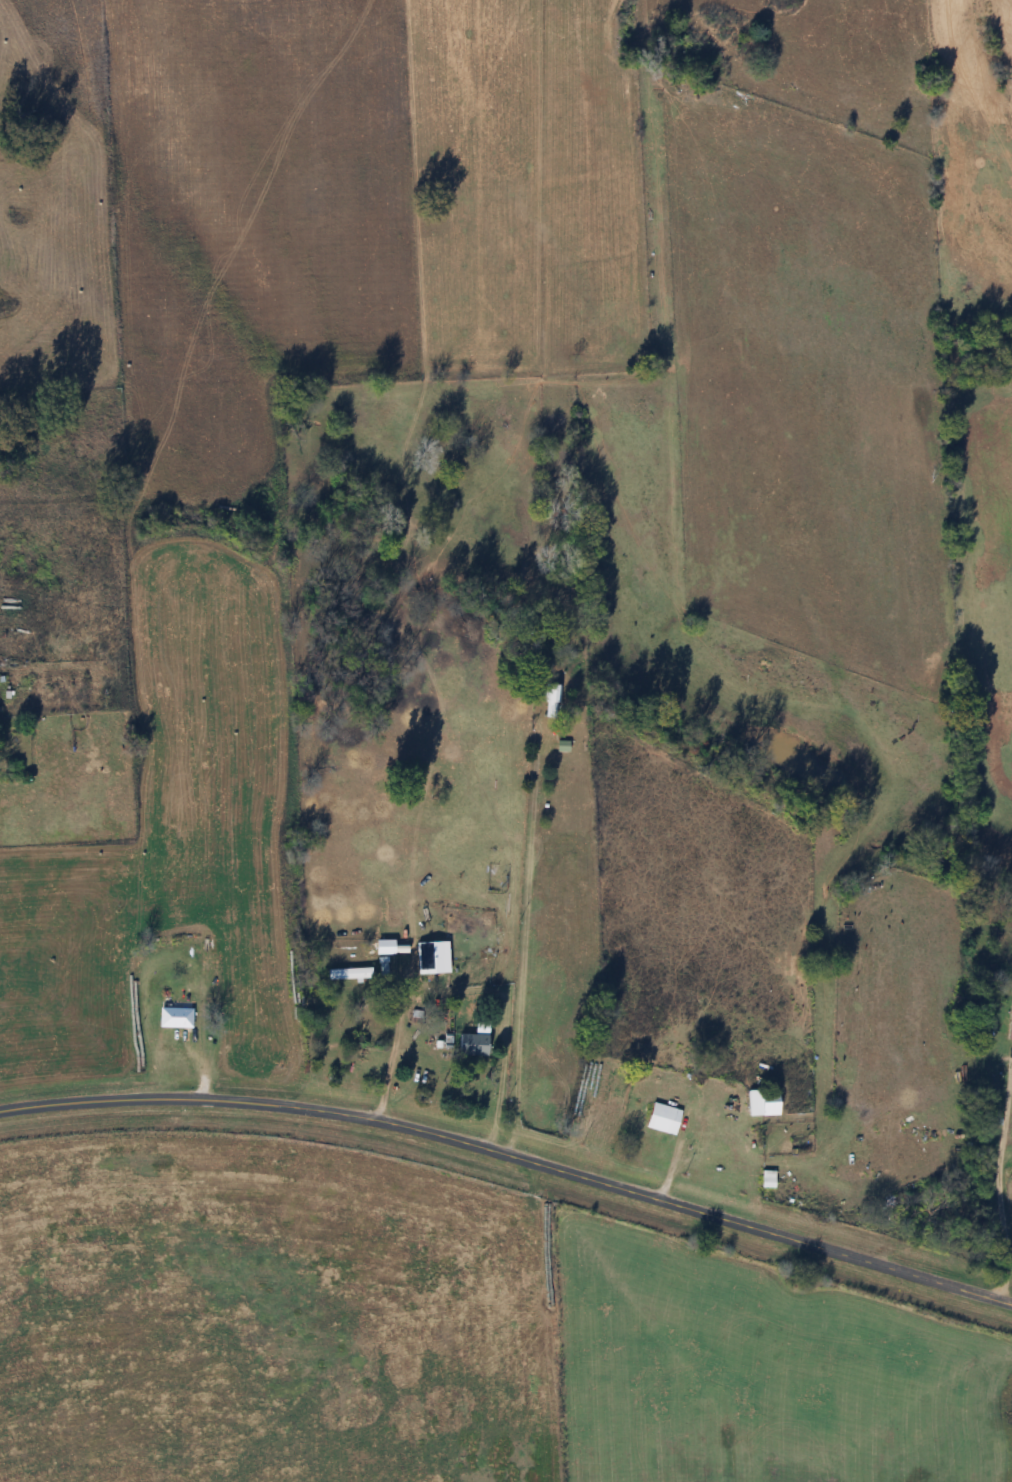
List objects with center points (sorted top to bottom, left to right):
building: (552, 702)
building: (351, 974)
building: (178, 1018)
building: (476, 1046)
building: (765, 1103)
building: (666, 1120)
road: (513, 1152)
building: (770, 1184)

